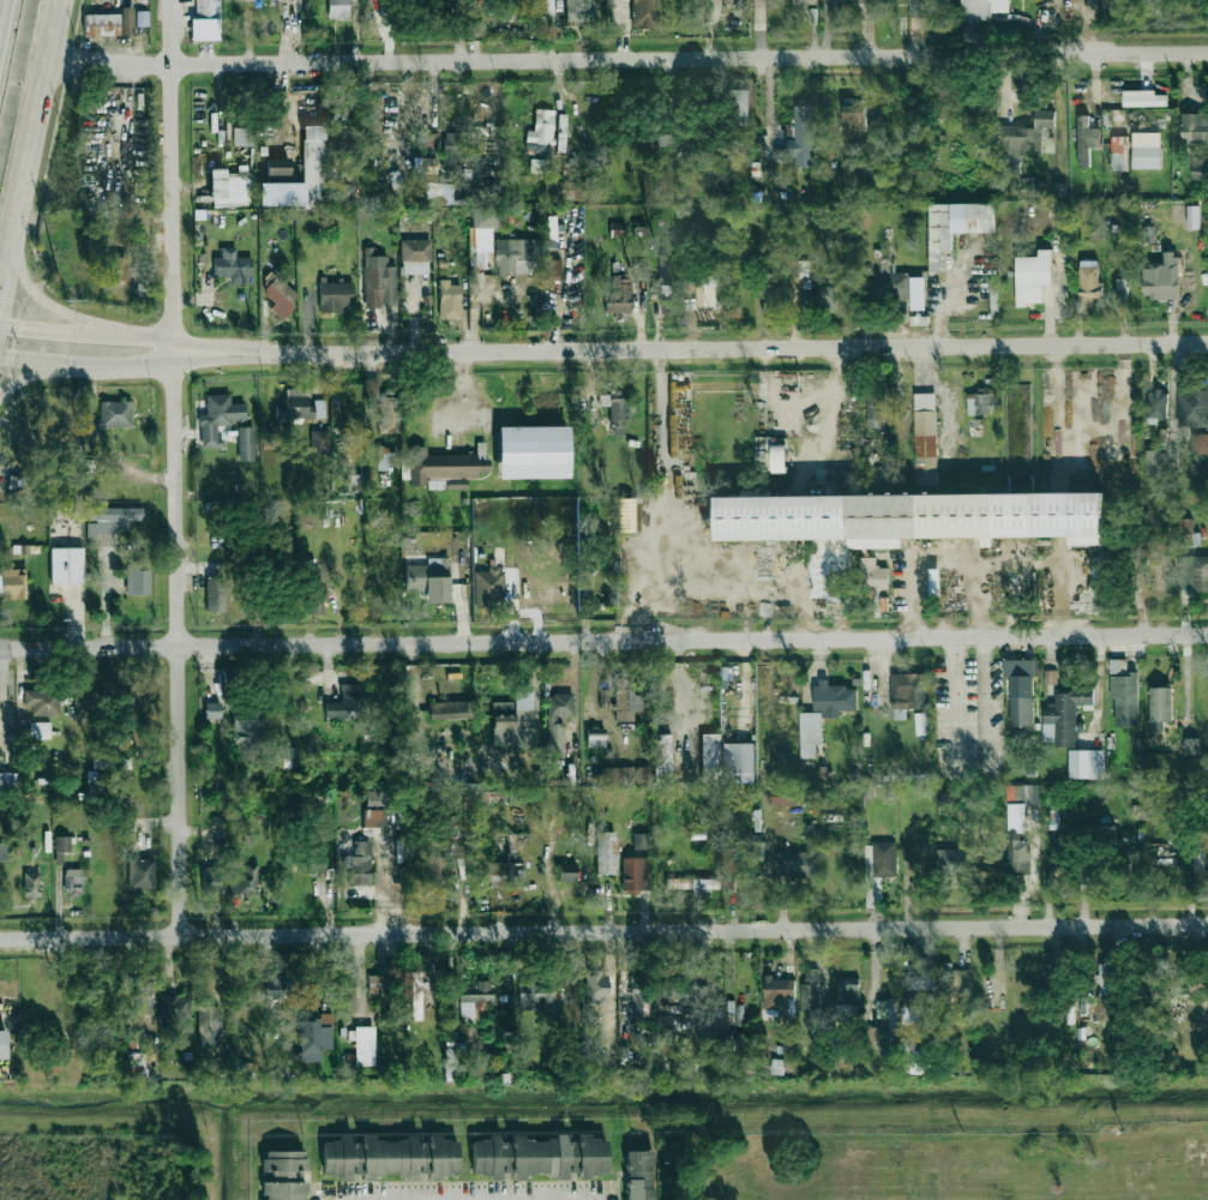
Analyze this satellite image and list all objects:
building: (871, 0)
building: (804, 1)
building: (840, 1)
building: (696, 2)
building: (504, 6)
building: (928, 6)
building: (337, 8)
building: (982, 8)
building: (579, 11)
building: (644, 13)
building: (205, 20)
building: (109, 24)
road: (627, 60)
building: (1143, 98)
building: (740, 108)
building: (854, 116)
building: (1195, 127)
building: (540, 133)
building: (342, 134)
building: (244, 137)
building: (803, 138)
building: (657, 139)
building: (429, 140)
building: (1086, 140)
building: (1022, 142)
road: (32, 144)
building: (453, 150)
building: (1146, 150)
building: (1119, 152)
building: (537, 166)
building: (278, 167)
building: (1200, 169)
building: (307, 180)
building: (397, 187)
building: (228, 188)
building: (561, 190)
building: (1059, 190)
building: (439, 193)
building: (1194, 217)
building: (957, 224)
building: (615, 228)
building: (1148, 234)
road: (6, 246)
building: (415, 257)
building: (513, 257)
building: (233, 266)
building: (118, 269)
building: (551, 269)
building: (641, 274)
building: (1033, 277)
building: (1161, 277)
building: (1089, 278)
building: (378, 280)
building: (662, 280)
building: (894, 284)
building: (705, 294)
building: (335, 295)
building: (619, 295)
building: (280, 296)
road: (41, 298)
building: (821, 299)
building: (449, 300)
building: (773, 300)
traffic signals: (24, 325)
road: (49, 326)
road: (139, 332)
road: (691, 349)
road: (89, 365)
road: (30, 376)
building: (980, 403)
building: (1158, 404)
building: (302, 406)
building: (1192, 407)
building: (876, 409)
building: (618, 412)
building: (113, 415)
building: (387, 415)
building: (218, 419)
building: (925, 438)
building: (319, 442)
building: (1200, 443)
building: (246, 444)
building: (533, 452)
building: (779, 458)
building: (384, 460)
building: (1150, 461)
building: (444, 464)
road: (175, 466)
building: (354, 484)
building: (456, 484)
building: (909, 517)
building: (110, 520)
building: (1185, 526)
road: (986, 562)
building: (66, 565)
building: (1192, 574)
building: (872, 575)
building: (137, 580)
building: (429, 580)
building: (13, 583)
road: (722, 584)
building: (492, 586)
building: (214, 587)
road: (104, 598)
building: (317, 599)
road: (978, 599)
road: (745, 611)
road: (699, 612)
road: (603, 641)
road: (969, 666)
building: (1050, 677)
building: (908, 690)
building: (1020, 691)
building: (1124, 696)
building: (834, 698)
building: (625, 700)
building: (42, 702)
building: (348, 702)
building: (1160, 707)
building: (212, 710)
building: (450, 710)
building: (1064, 716)
building: (558, 719)
parking lot: (968, 719)
building: (512, 721)
building: (40, 730)
building: (246, 733)
building: (810, 733)
building: (595, 738)
building: (710, 750)
building: (287, 757)
building: (662, 758)
building: (738, 763)
building: (1086, 763)
building: (824, 774)
building: (624, 775)
building: (7, 781)
building: (783, 797)
building: (375, 799)
building: (945, 800)
building: (373, 818)
building: (1018, 827)
building: (641, 841)
building: (61, 847)
building: (2, 851)
building: (606, 852)
building: (1056, 852)
building: (881, 860)
building: (950, 860)
building: (360, 864)
building: (799, 864)
building: (317, 866)
building: (437, 870)
building: (733, 870)
building: (566, 872)
building: (142, 874)
building: (636, 874)
building: (504, 875)
building: (211, 881)
building: (244, 881)
building: (73, 882)
building: (691, 884)
building: (31, 887)
road: (603, 928)
building: (377, 984)
building: (276, 988)
building: (956, 988)
building: (596, 989)
building: (810, 990)
building: (1104, 991)
building: (416, 996)
building: (541, 996)
building: (777, 996)
building: (916, 996)
building: (143, 997)
building: (848, 998)
building: (475, 1001)
building: (639, 1003)
building: (175, 1007)
building: (668, 1022)
building: (887, 1025)
building: (208, 1026)
building: (313, 1039)
building: (744, 1042)
building: (1, 1044)
building: (363, 1045)
building: (451, 1061)
building: (134, 1066)
building: (777, 1067)
building: (389, 1157)
building: (540, 1157)
road: (1194, 1159)
building: (957, 1168)
building: (283, 1175)
building: (639, 1175)
building: (1141, 1180)
road: (489, 1198)

